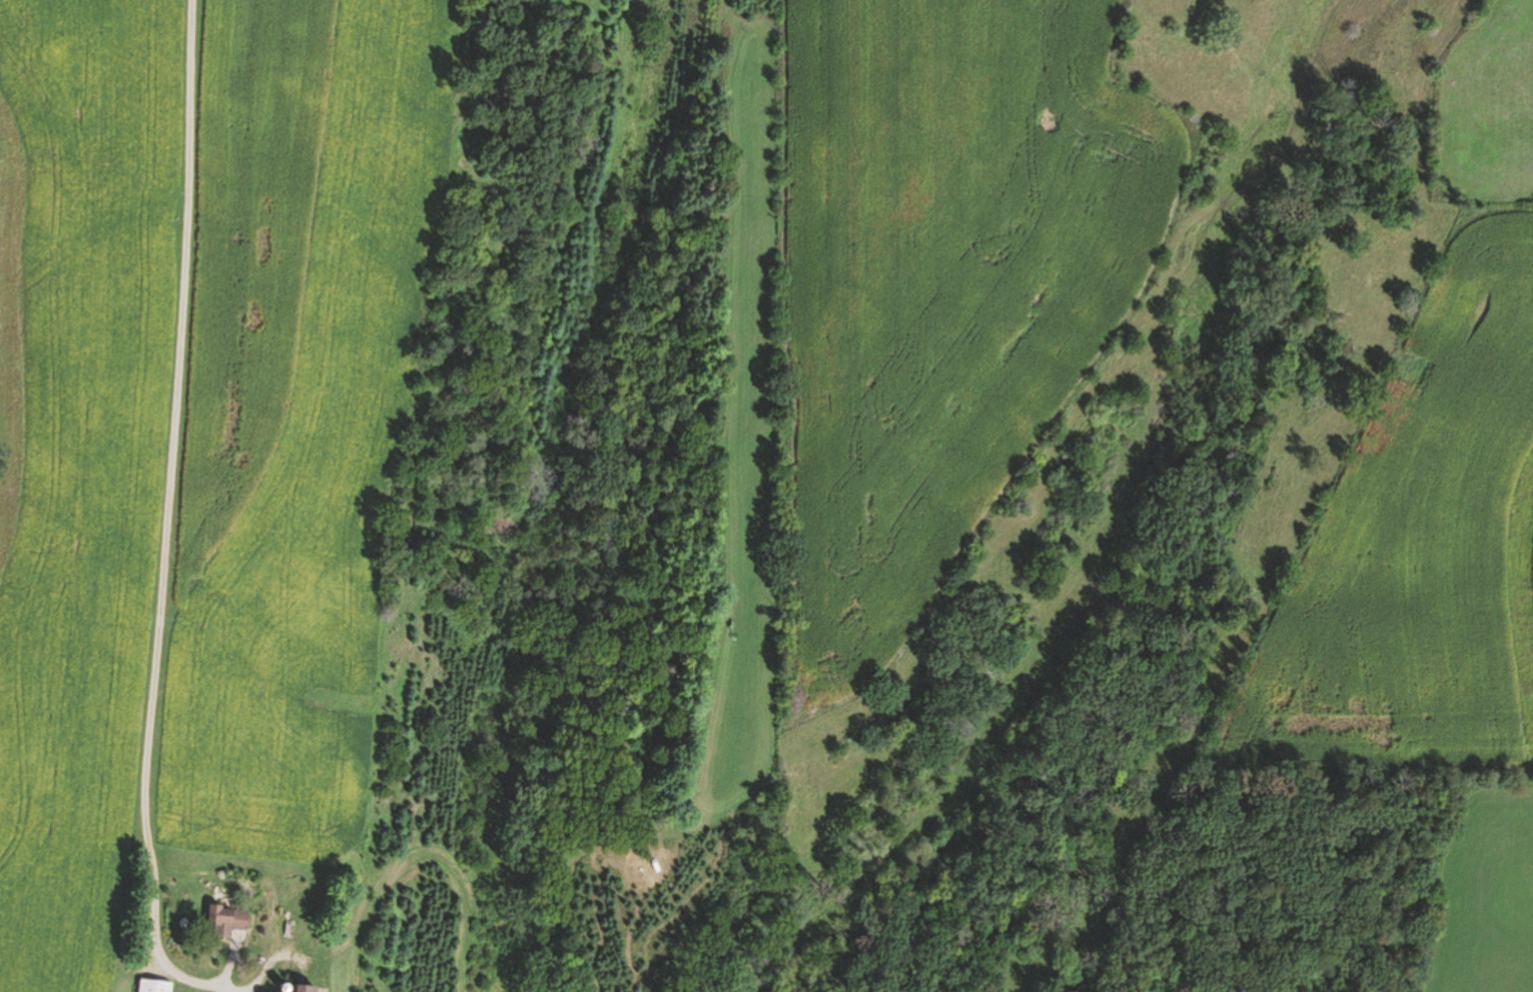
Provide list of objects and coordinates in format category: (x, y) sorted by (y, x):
road: (173, 415)
building: (229, 921)
building: (155, 985)
building: (306, 988)

